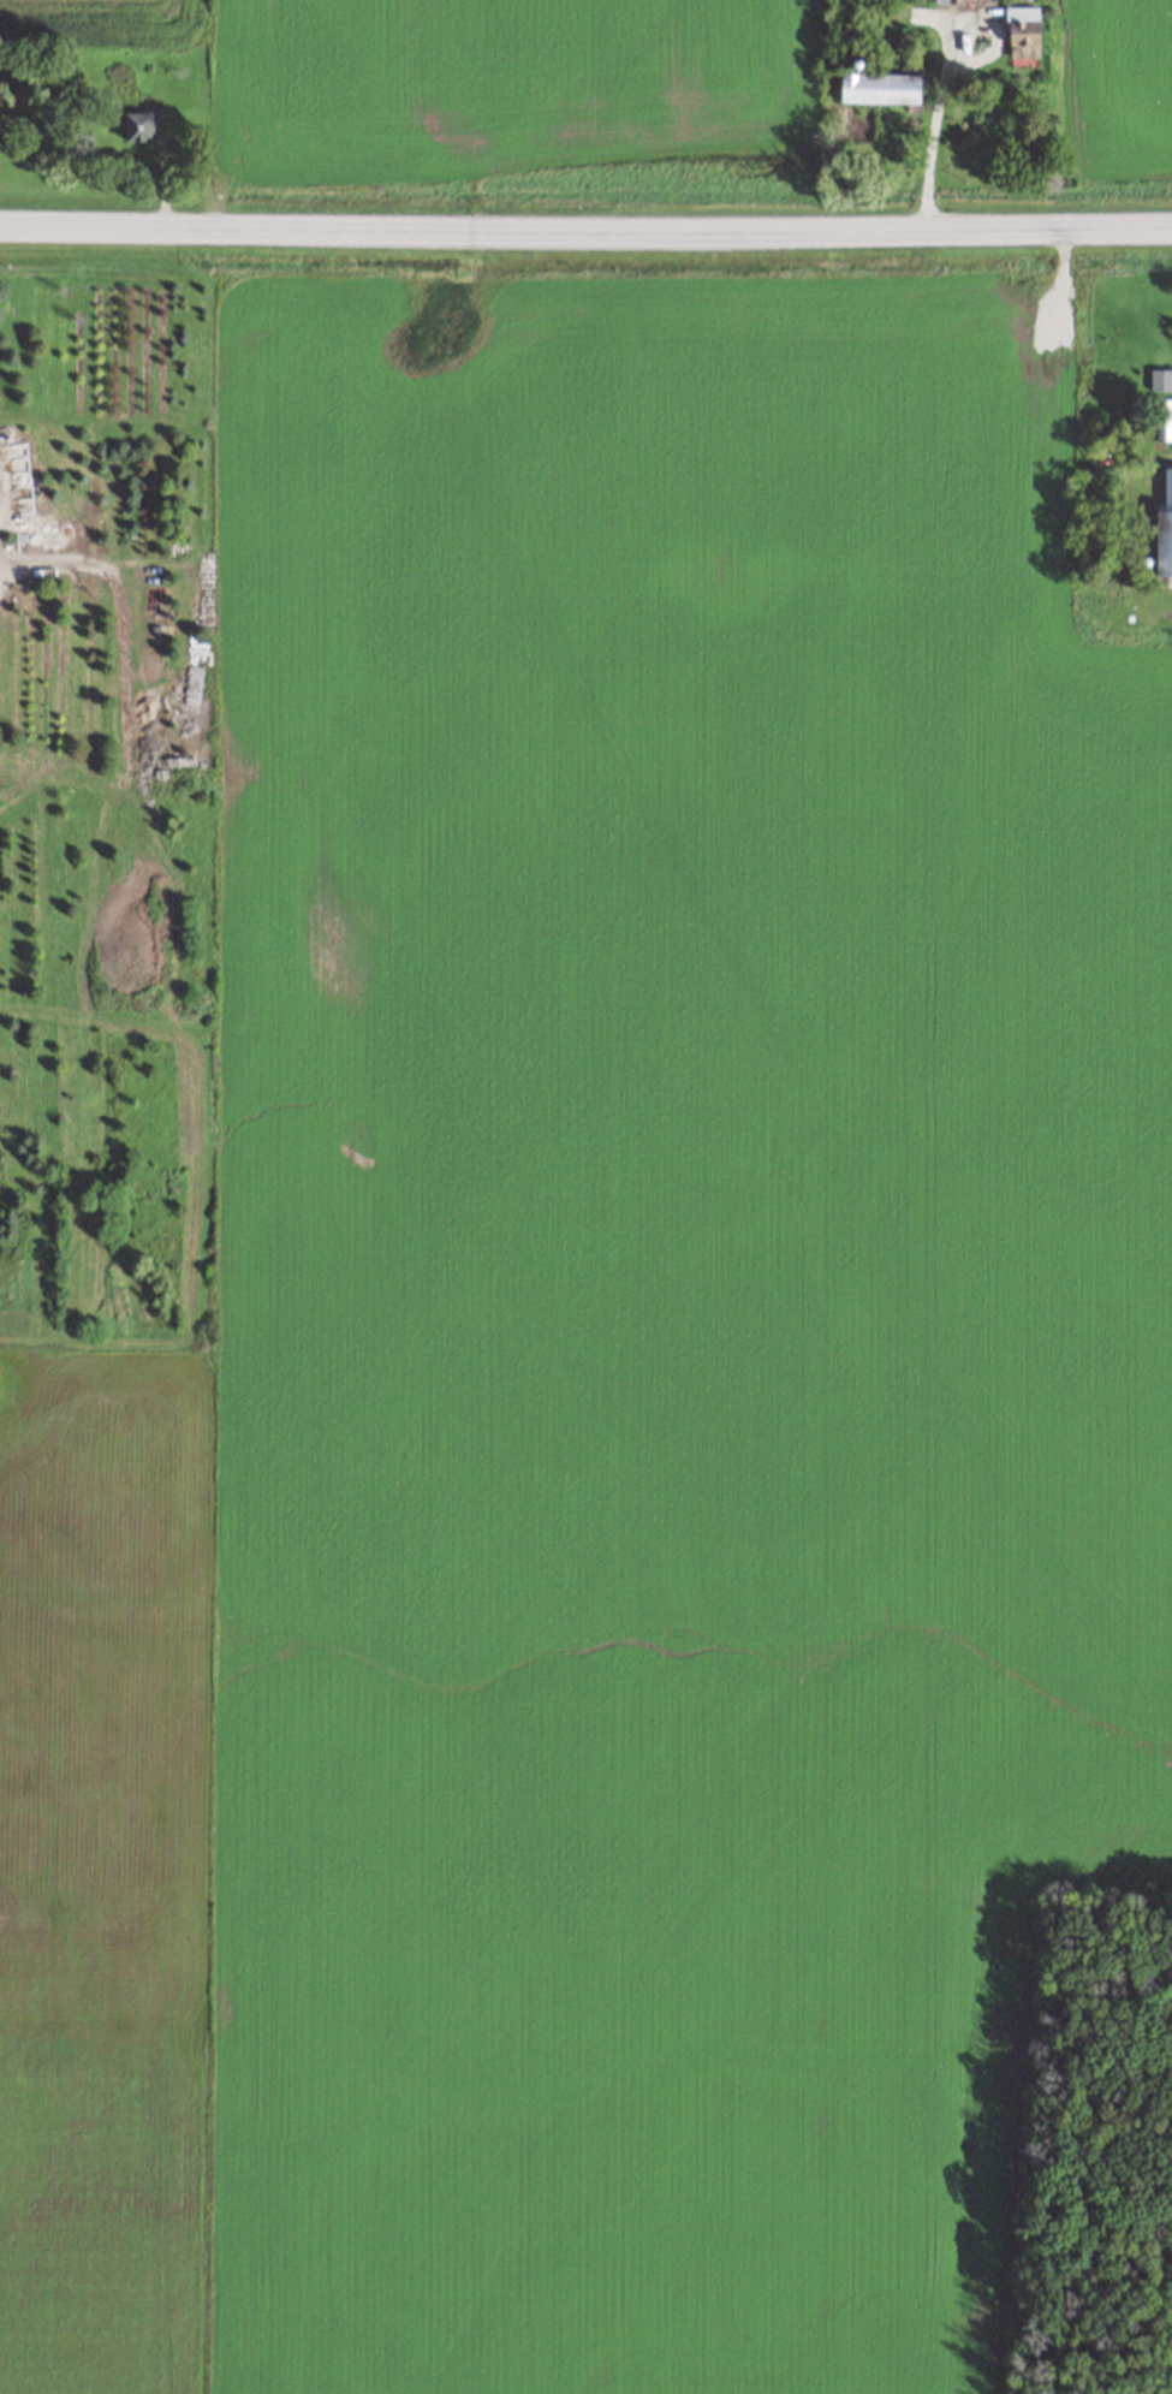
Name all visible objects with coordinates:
building: (1024, 32)
building: (884, 87)
crop: (1116, 90)
crop: (489, 95)
building: (148, 120)
road: (585, 232)
building: (1160, 380)
building: (1164, 421)
building: (1167, 523)
crop: (584, 1361)

